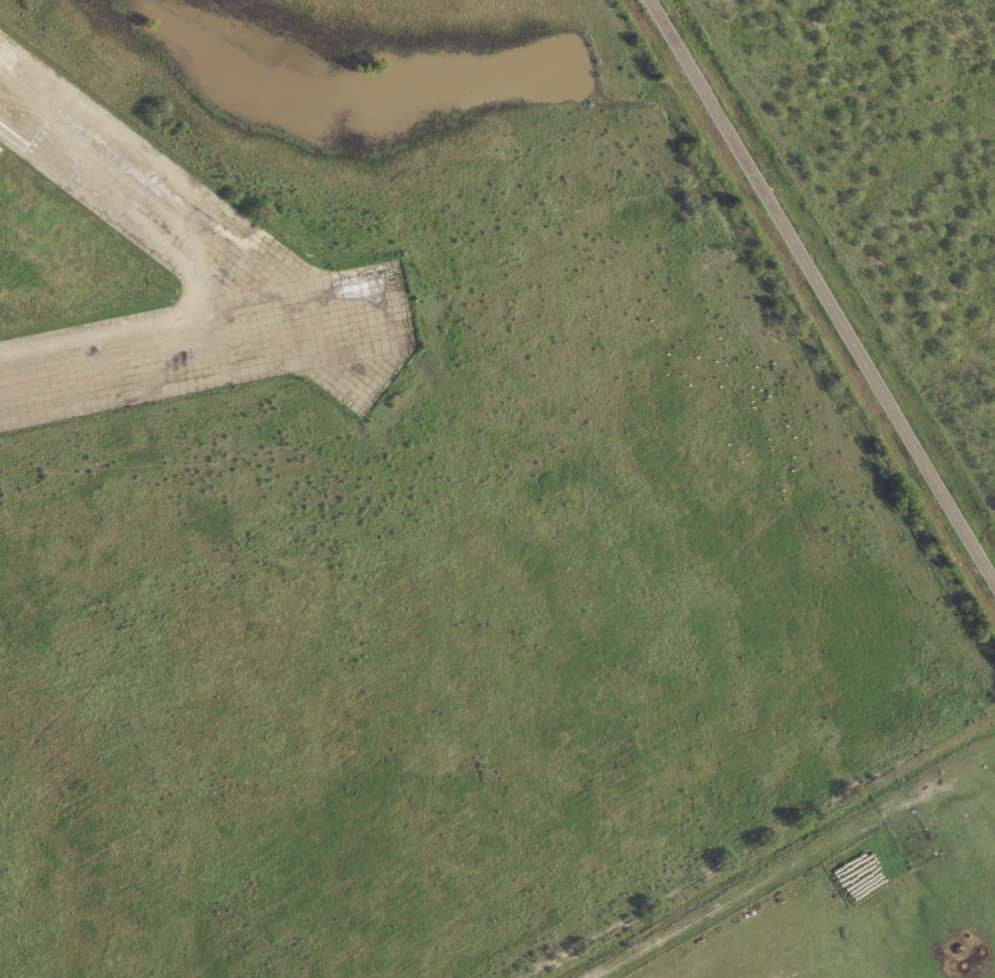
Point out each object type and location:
road: (824, 290)

